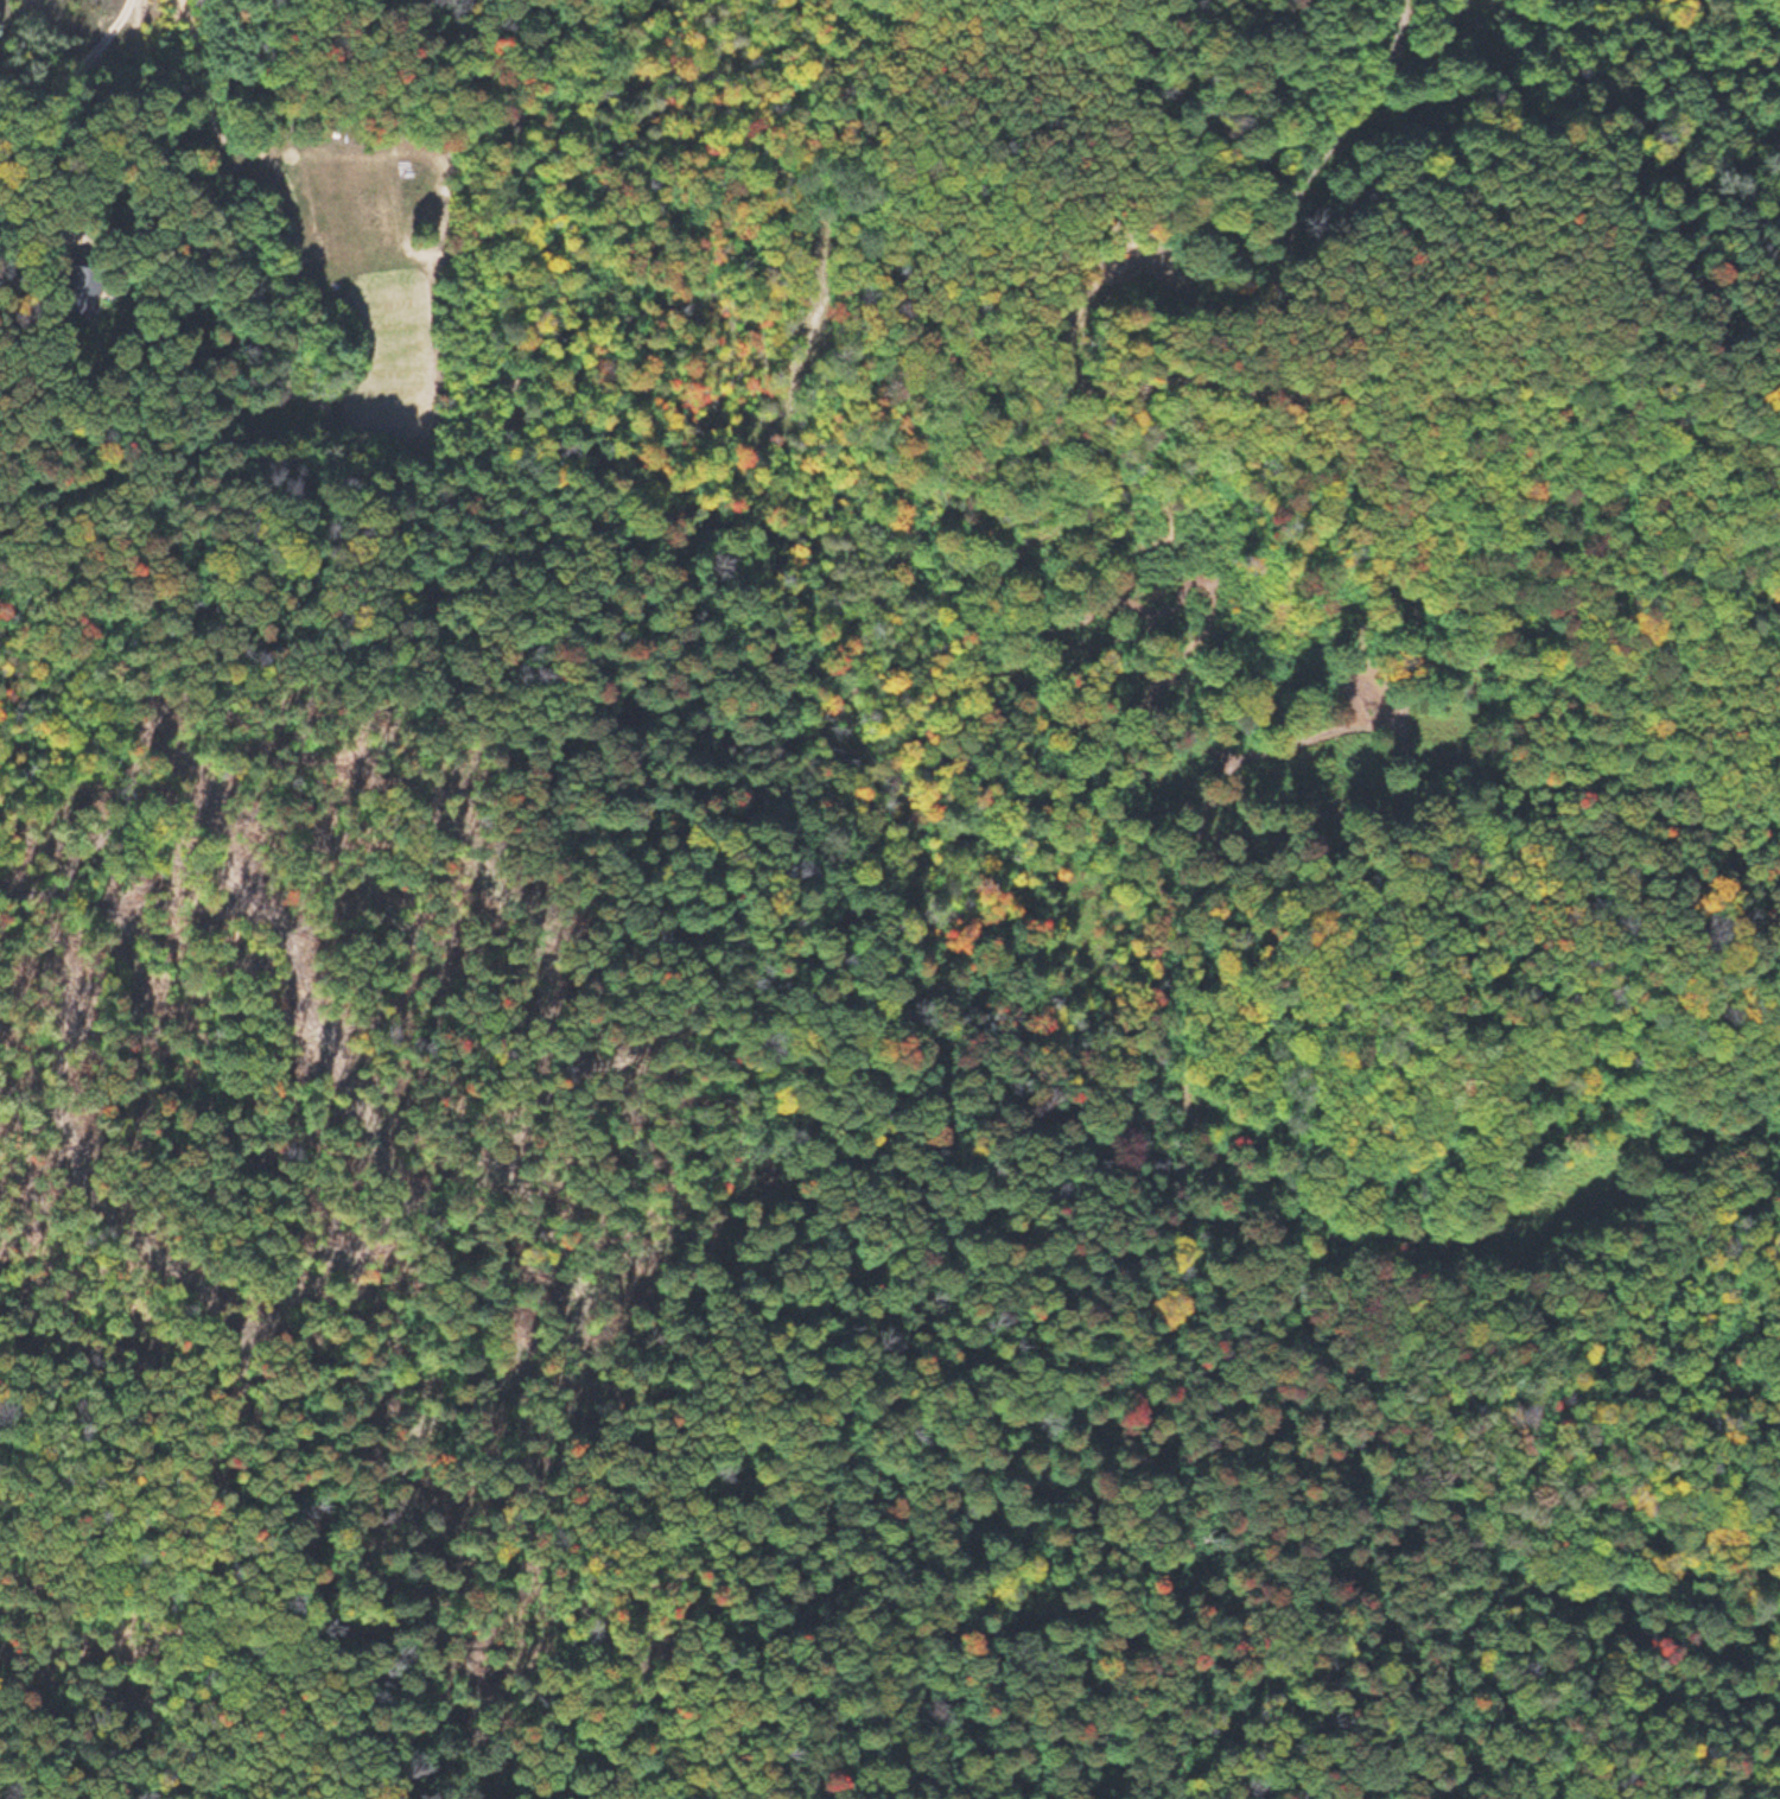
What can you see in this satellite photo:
building: (76, 284)

